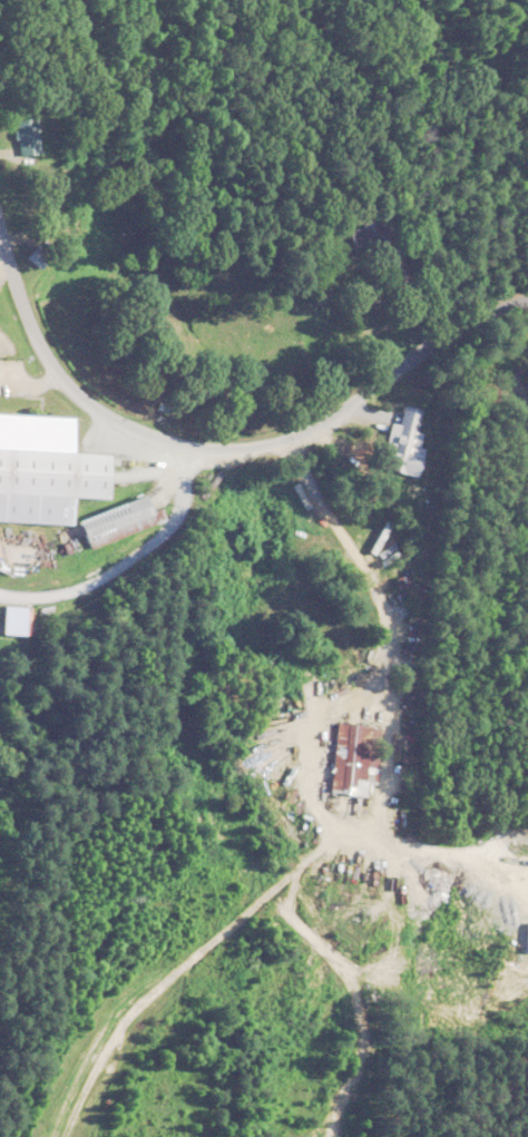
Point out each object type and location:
building: (31, 135)
building: (372, 237)
building: (42, 257)
building: (408, 443)
road: (234, 451)
building: (50, 467)
building: (125, 517)
building: (354, 756)

